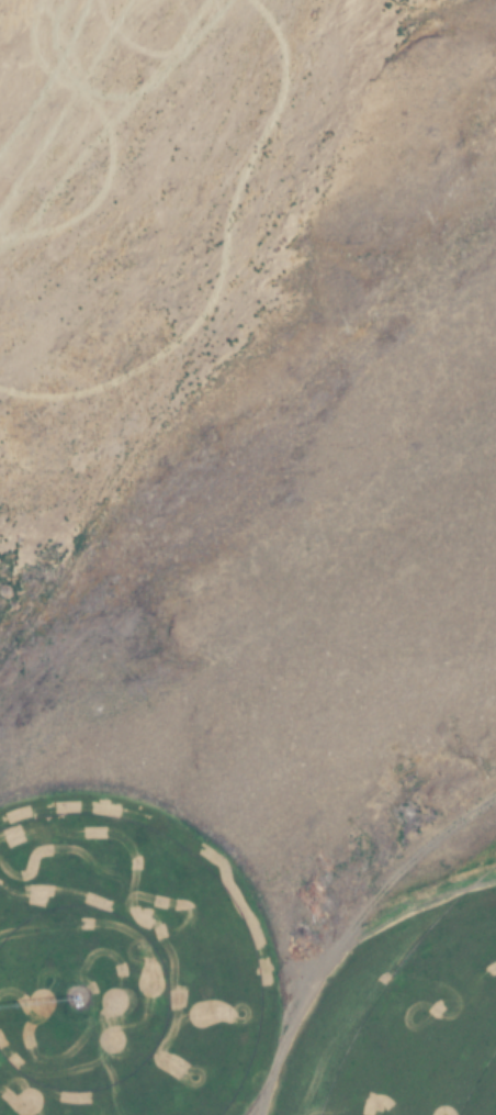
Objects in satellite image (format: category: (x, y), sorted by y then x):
crop: (431, 1012)

